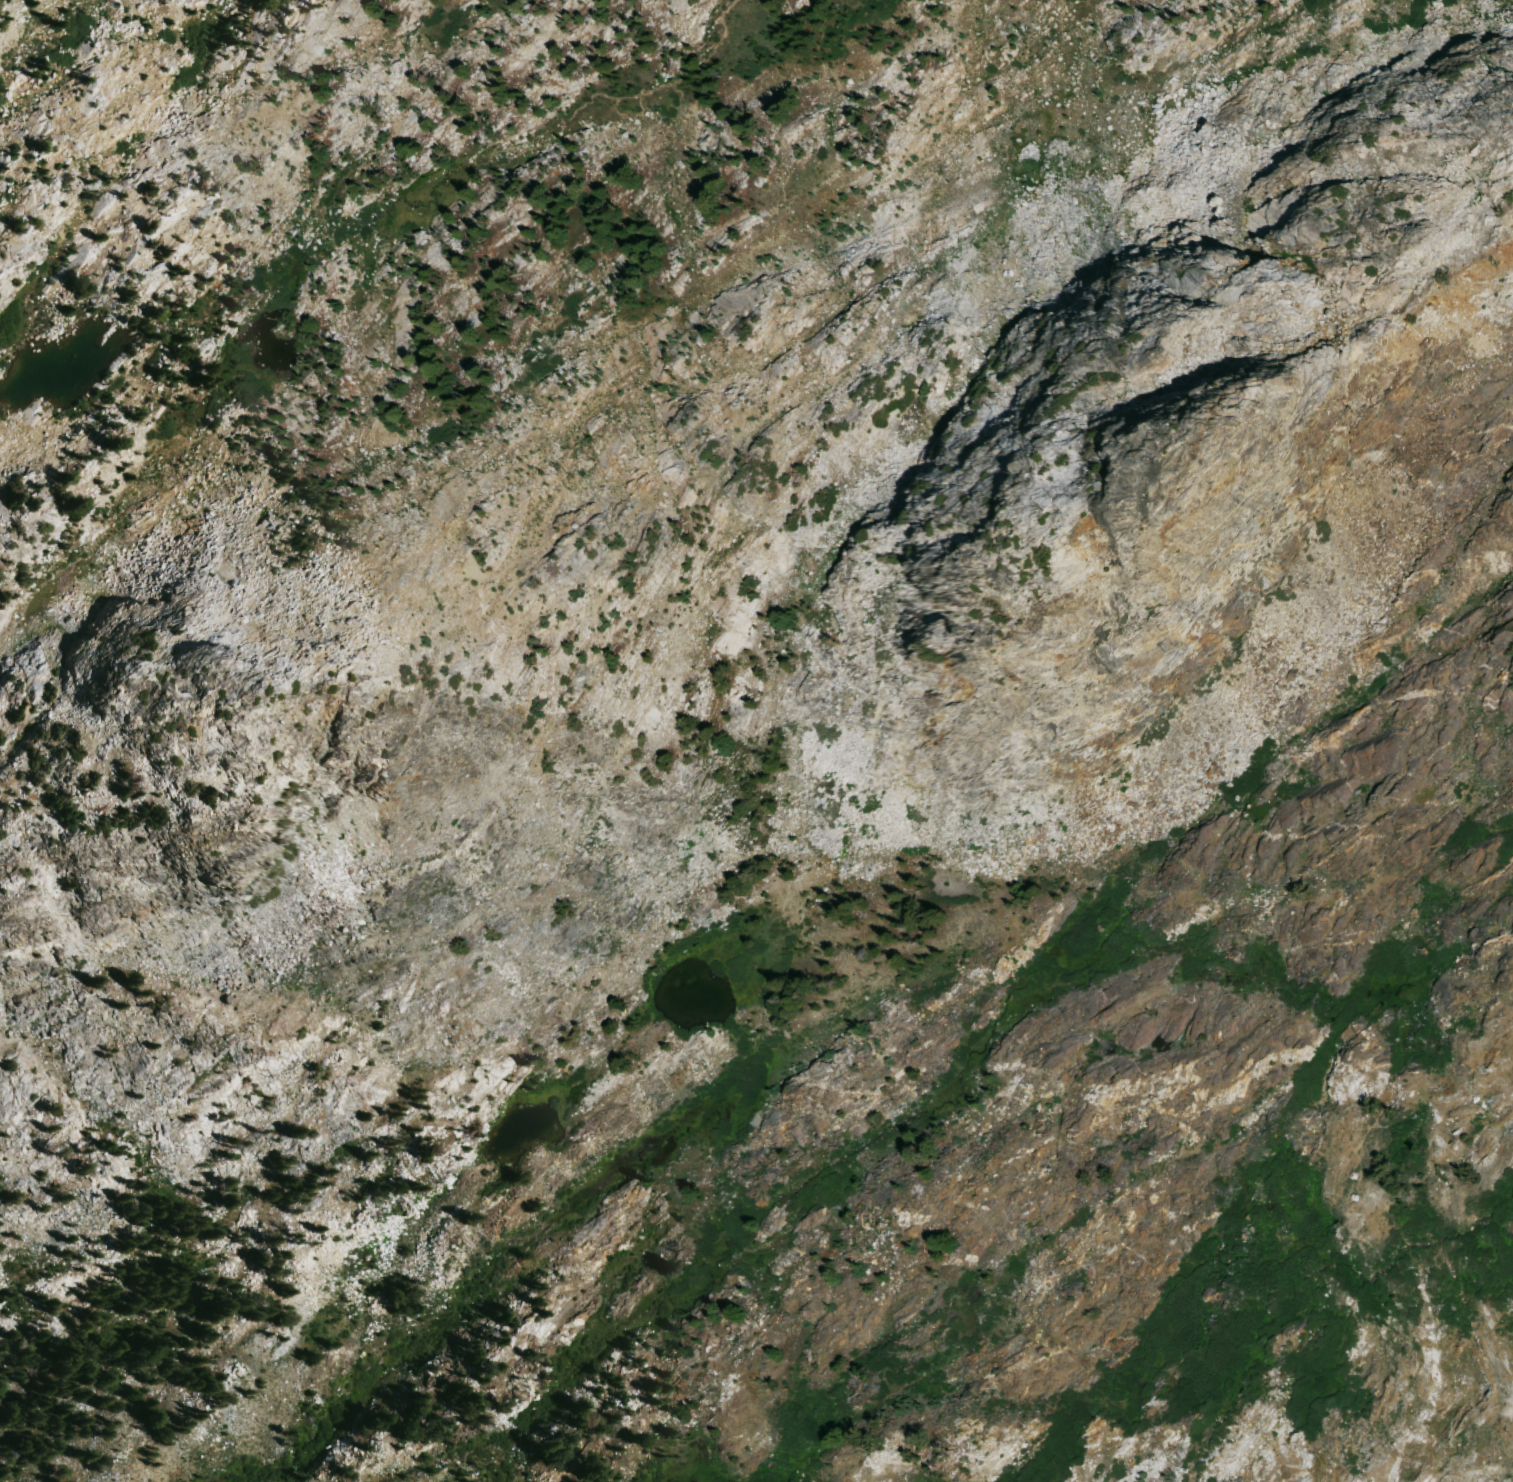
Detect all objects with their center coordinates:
road: (1388, 1227)

